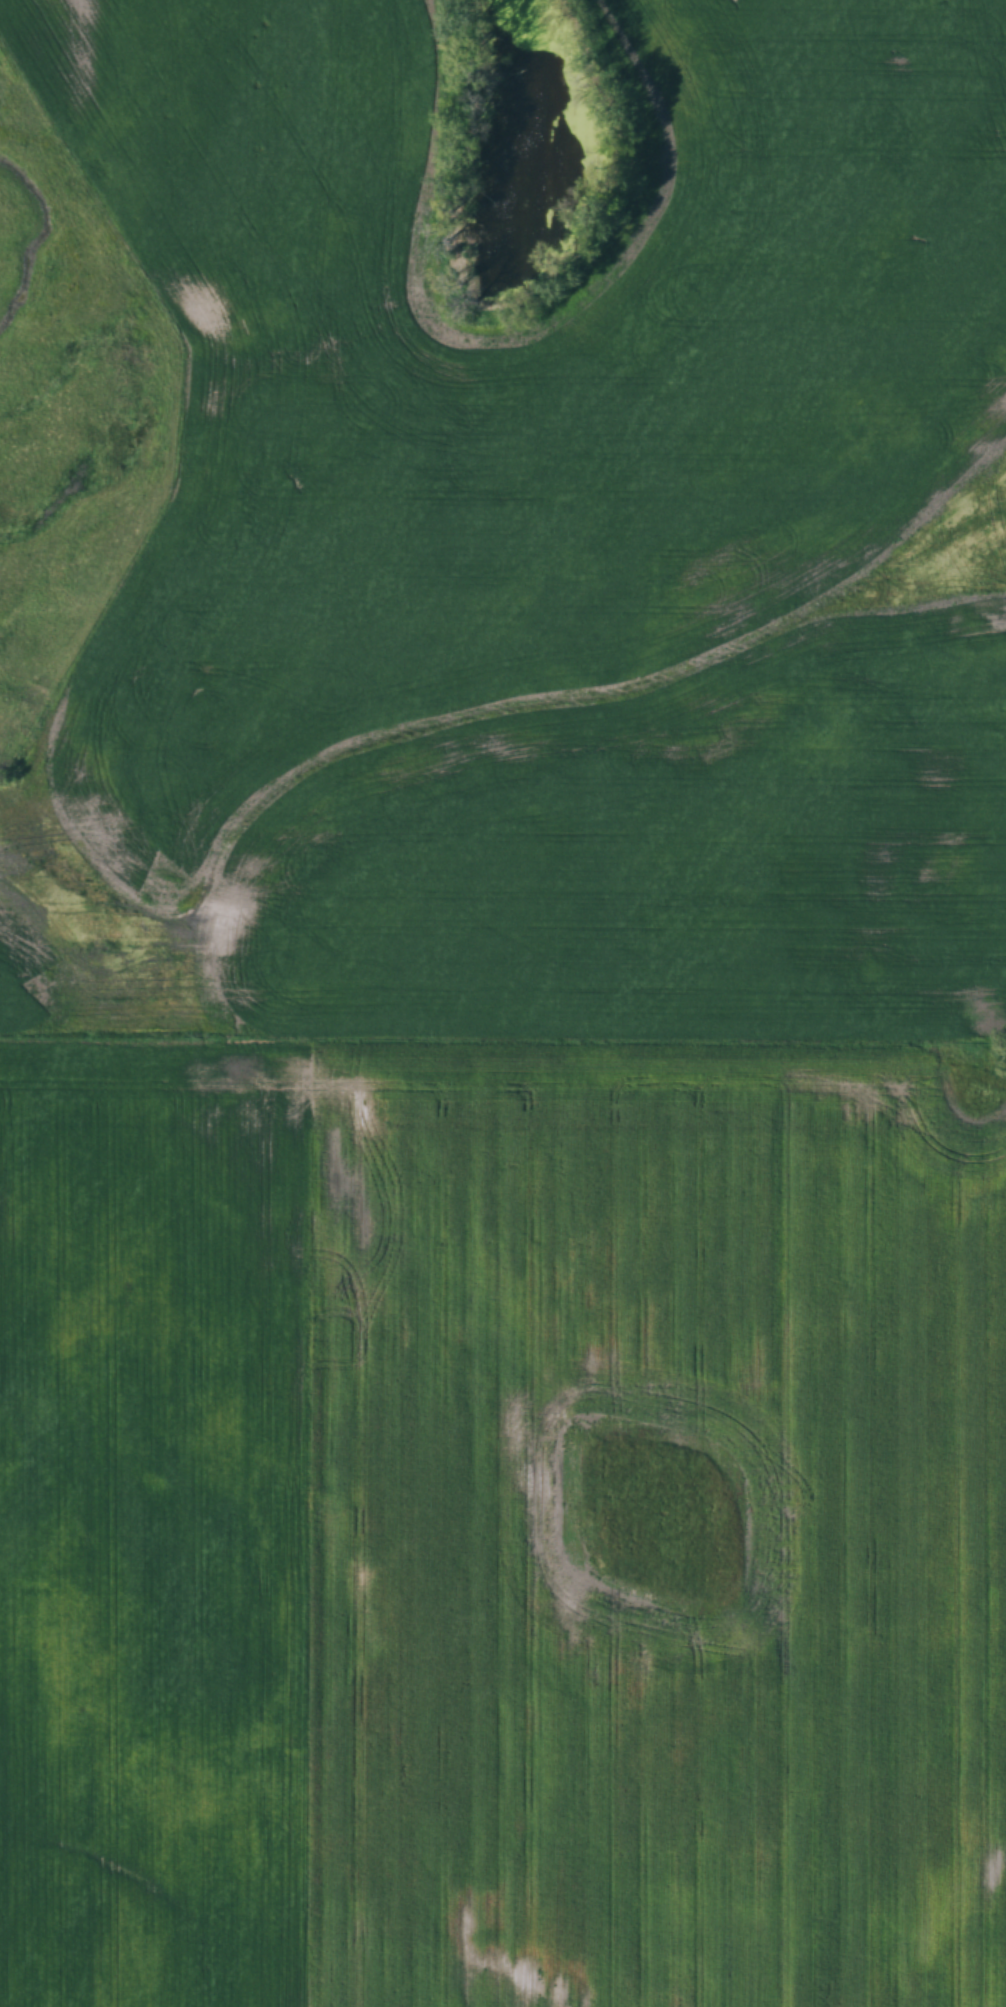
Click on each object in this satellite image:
crop: (152, 1528)

